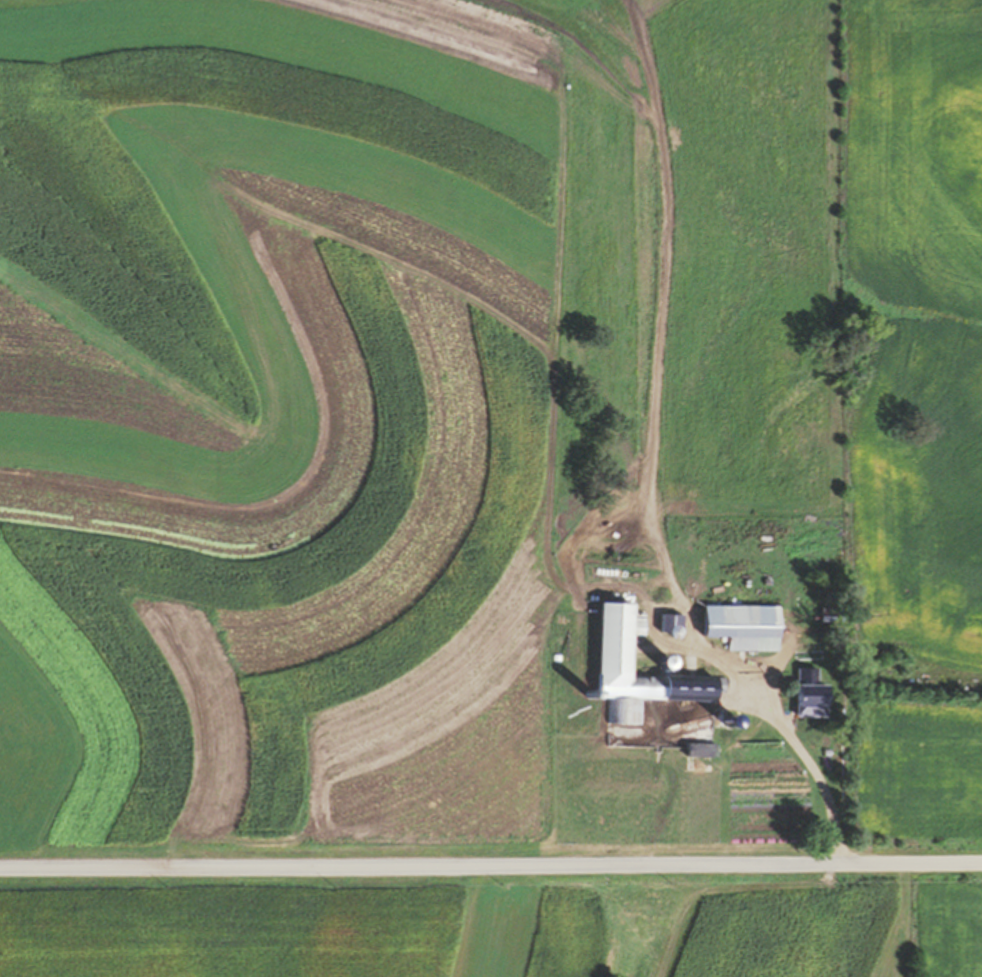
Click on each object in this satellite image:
building: (833, 614)
road: (659, 624)
building: (755, 626)
building: (620, 638)
building: (819, 694)
building: (721, 719)
road: (790, 737)
building: (704, 749)
road: (491, 867)

